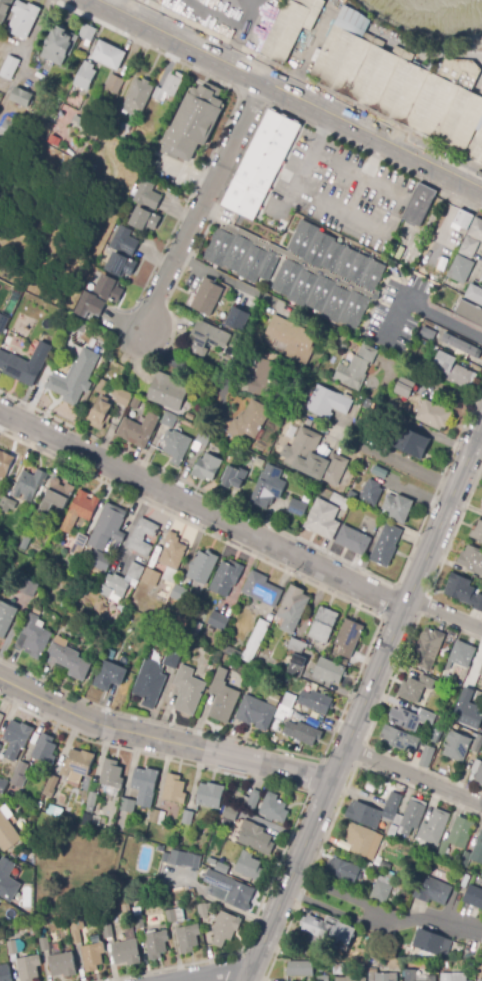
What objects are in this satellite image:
road: (120, 5)
building: (4, 9)
building: (23, 19)
building: (296, 28)
road: (246, 32)
building: (68, 41)
building: (111, 54)
building: (10, 66)
building: (88, 74)
building: (115, 83)
building: (400, 83)
building: (152, 91)
road: (289, 93)
building: (23, 95)
building: (77, 121)
building: (196, 121)
building: (125, 128)
building: (5, 129)
building: (121, 148)
building: (265, 161)
road: (306, 164)
building: (148, 203)
building: (421, 203)
road: (202, 206)
road: (383, 212)
road: (447, 214)
building: (463, 219)
building: (476, 228)
building: (470, 247)
building: (126, 250)
building: (450, 252)
building: (303, 268)
building: (462, 268)
road: (225, 279)
building: (481, 280)
building: (446, 282)
building: (111, 286)
building: (457, 287)
building: (475, 292)
building: (207, 298)
building: (92, 304)
building: (469, 309)
road: (422, 311)
building: (238, 319)
building: (3, 321)
building: (81, 327)
building: (427, 333)
building: (208, 338)
building: (291, 340)
building: (336, 341)
building: (236, 343)
building: (462, 344)
building: (344, 345)
road: (182, 361)
building: (358, 366)
building: (19, 367)
building: (456, 369)
building: (75, 376)
building: (267, 379)
building: (405, 384)
building: (102, 387)
building: (167, 392)
building: (122, 396)
building: (329, 401)
building: (134, 403)
building: (368, 404)
building: (392, 405)
building: (100, 413)
building: (435, 413)
building: (189, 417)
building: (168, 420)
building: (248, 421)
building: (357, 426)
building: (138, 430)
building: (204, 438)
road: (478, 439)
building: (416, 443)
building: (176, 446)
building: (315, 458)
road: (401, 462)
building: (5, 464)
building: (207, 468)
building: (379, 471)
building: (234, 477)
building: (29, 484)
building: (268, 487)
building: (42, 492)
building: (372, 492)
building: (353, 494)
building: (56, 496)
building: (307, 500)
building: (7, 504)
building: (481, 505)
building: (401, 506)
building: (81, 508)
building: (297, 508)
road: (202, 511)
building: (1, 514)
building: (324, 519)
building: (108, 527)
building: (477, 532)
building: (142, 537)
building: (355, 539)
building: (24, 543)
building: (387, 544)
building: (78, 545)
building: (173, 552)
building: (471, 560)
building: (99, 561)
building: (202, 567)
building: (135, 571)
building: (151, 577)
building: (226, 578)
building: (113, 586)
building: (29, 588)
building: (262, 590)
building: (463, 592)
building: (178, 593)
building: (293, 609)
building: (37, 611)
road: (444, 614)
building: (6, 618)
building: (218, 621)
building: (323, 625)
building: (195, 629)
building: (35, 637)
building: (348, 638)
building: (254, 643)
building: (298, 646)
building: (427, 649)
building: (227, 650)
building: (110, 654)
building: (174, 655)
building: (69, 658)
building: (223, 658)
building: (458, 659)
building: (297, 665)
building: (329, 671)
building: (481, 672)
building: (109, 676)
building: (478, 683)
building: (149, 684)
building: (415, 689)
building: (188, 691)
building: (222, 698)
building: (273, 699)
road: (362, 701)
building: (315, 702)
building: (286, 706)
building: (255, 713)
building: (468, 716)
building: (308, 717)
building: (410, 718)
building: (276, 725)
building: (481, 730)
building: (302, 733)
building: (16, 739)
building: (399, 739)
road: (160, 741)
building: (456, 744)
building: (477, 744)
building: (0, 747)
building: (45, 750)
building: (426, 757)
building: (77, 765)
building: (477, 770)
building: (111, 774)
building: (20, 775)
road: (412, 775)
building: (3, 785)
building: (145, 786)
building: (50, 787)
building: (174, 790)
building: (210, 795)
building: (92, 799)
building: (253, 800)
building: (126, 805)
building: (38, 806)
building: (391, 807)
building: (273, 809)
building: (54, 811)
building: (230, 814)
building: (362, 814)
building: (157, 817)
building: (188, 818)
building: (407, 819)
building: (21, 822)
building: (433, 827)
building: (387, 829)
building: (7, 833)
building: (255, 836)
building: (456, 837)
building: (363, 841)
building: (160, 848)
building: (473, 854)
building: (173, 857)
building: (211, 861)
building: (195, 862)
building: (457, 862)
building: (248, 866)
building: (221, 868)
building: (342, 870)
building: (462, 871)
building: (481, 874)
building: (8, 880)
building: (383, 882)
building: (231, 890)
building: (432, 891)
building: (473, 897)
road: (387, 907)
building: (204, 909)
building: (170, 916)
building: (139, 922)
building: (225, 928)
building: (107, 932)
building: (329, 932)
building: (75, 936)
building: (188, 938)
building: (2, 941)
building: (432, 943)
building: (156, 944)
building: (43, 945)
building: (14, 947)
building: (126, 952)
building: (374, 955)
building: (92, 957)
building: (389, 962)
building: (62, 965)
building: (28, 968)
building: (300, 968)
building: (337, 969)
building: (5, 973)
road: (219, 973)
building: (410, 975)
building: (381, 977)
building: (453, 977)
building: (322, 978)
building: (430, 978)
building: (340, 979)
building: (358, 980)
building: (480, 980)

